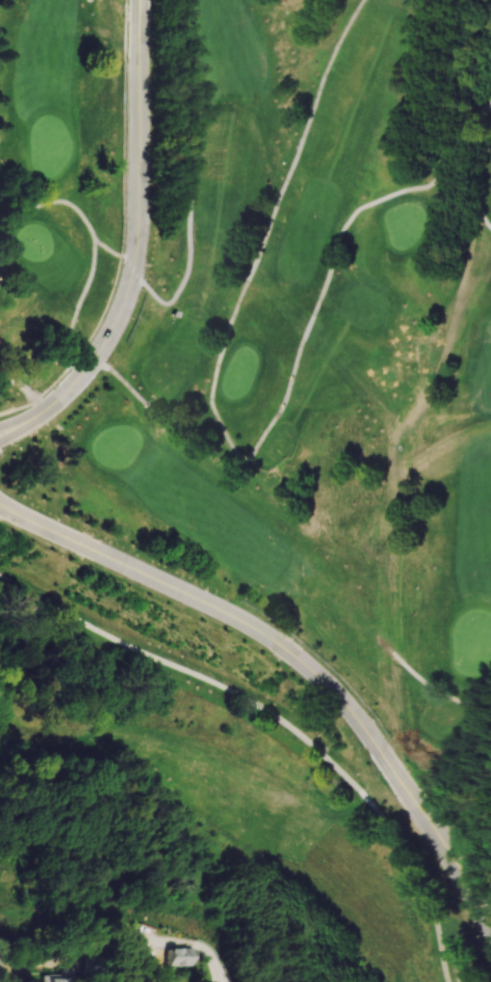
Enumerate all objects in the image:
road: (489, 135)
road: (481, 152)
road: (50, 202)
road: (139, 233)
road: (124, 235)
road: (168, 306)
building: (176, 315)
park: (269, 324)
building: (0, 343)
road: (65, 344)
road: (458, 378)
road: (25, 389)
road: (16, 408)
road: (11, 426)
road: (11, 431)
road: (229, 444)
road: (11, 509)
road: (12, 513)
road: (418, 631)
road: (312, 672)
road: (487, 690)
road: (443, 698)
road: (280, 721)
park: (209, 774)
building: (130, 939)
building: (175, 956)
road: (213, 961)
road: (1, 965)
building: (53, 978)

